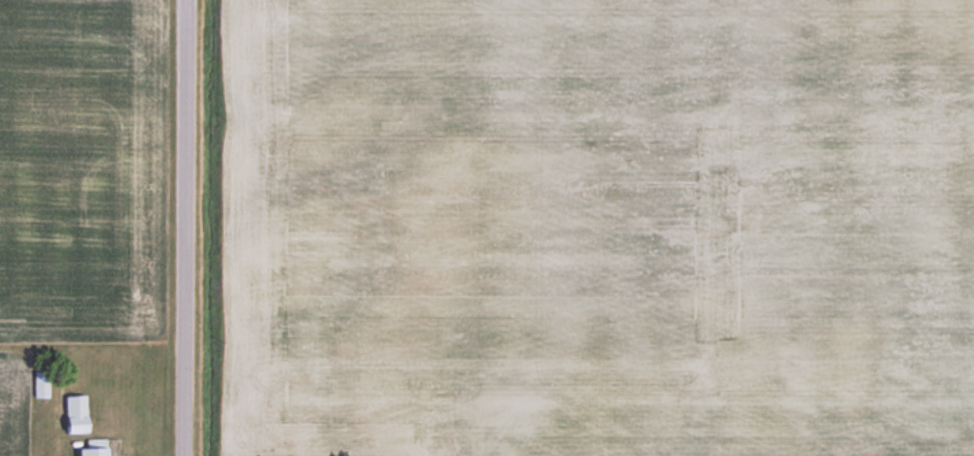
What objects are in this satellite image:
road: (186, 228)
building: (40, 384)
building: (614, 388)
building: (74, 413)
building: (92, 448)

